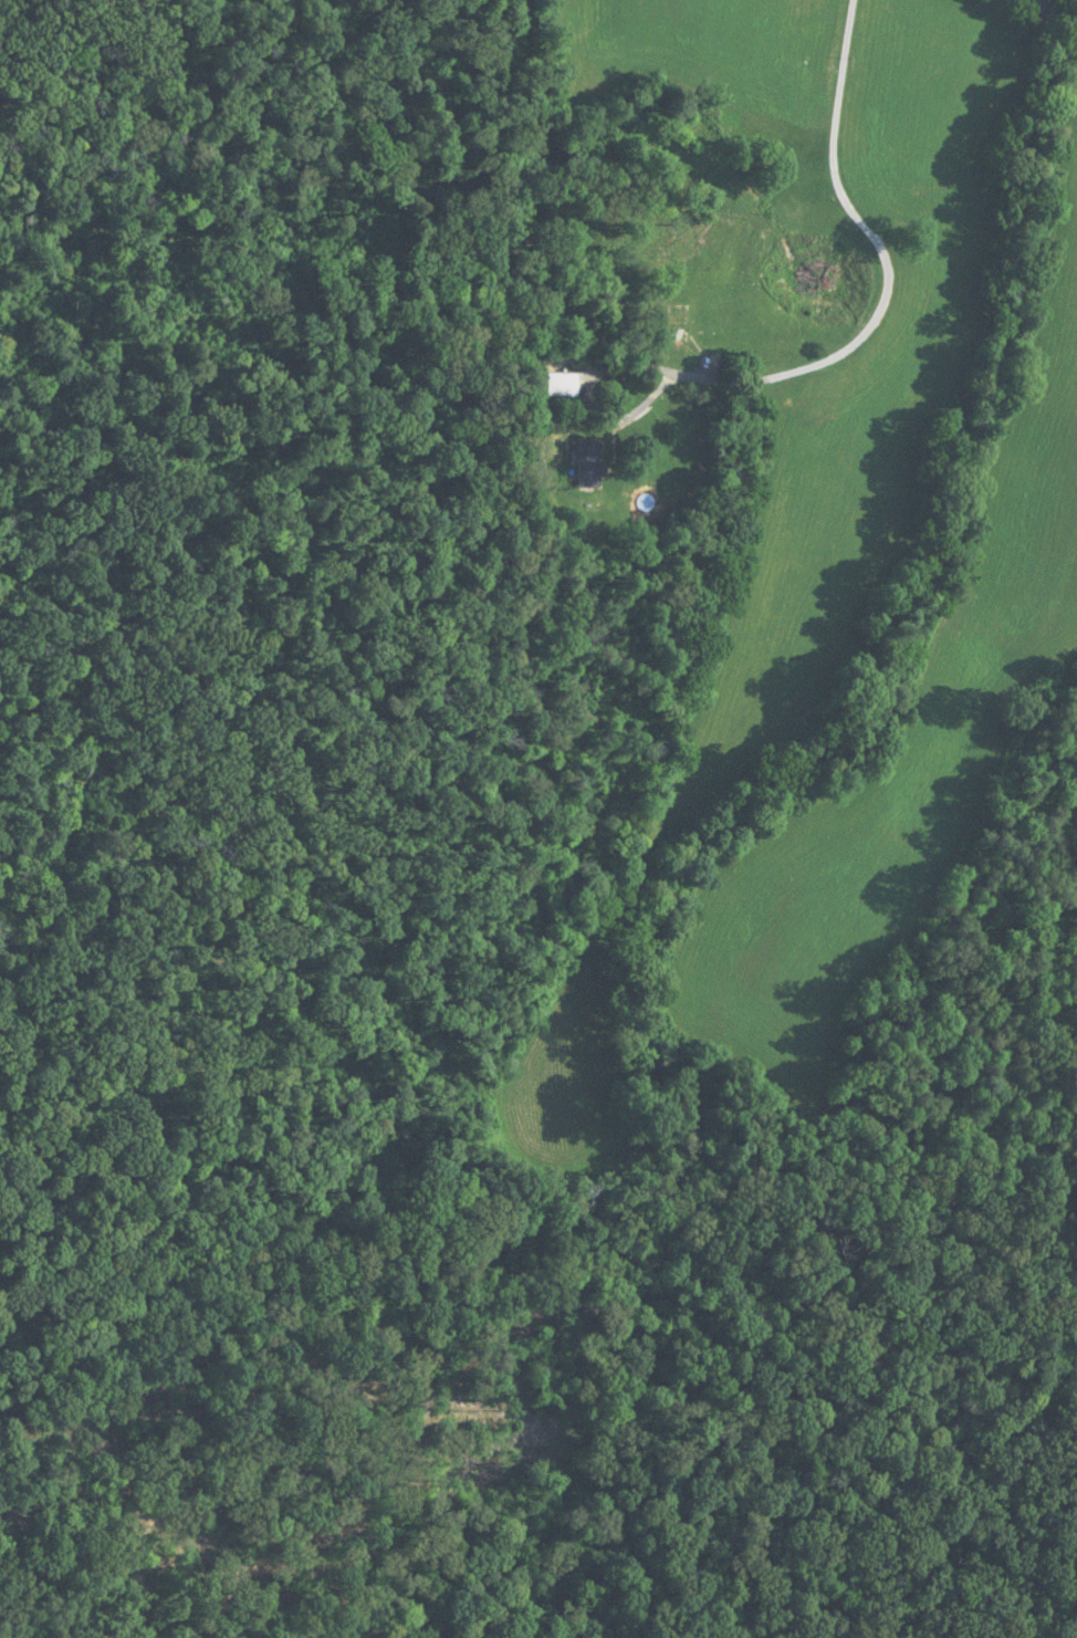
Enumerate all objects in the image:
road: (1056, 14)
building: (560, 384)
road: (276, 1492)

